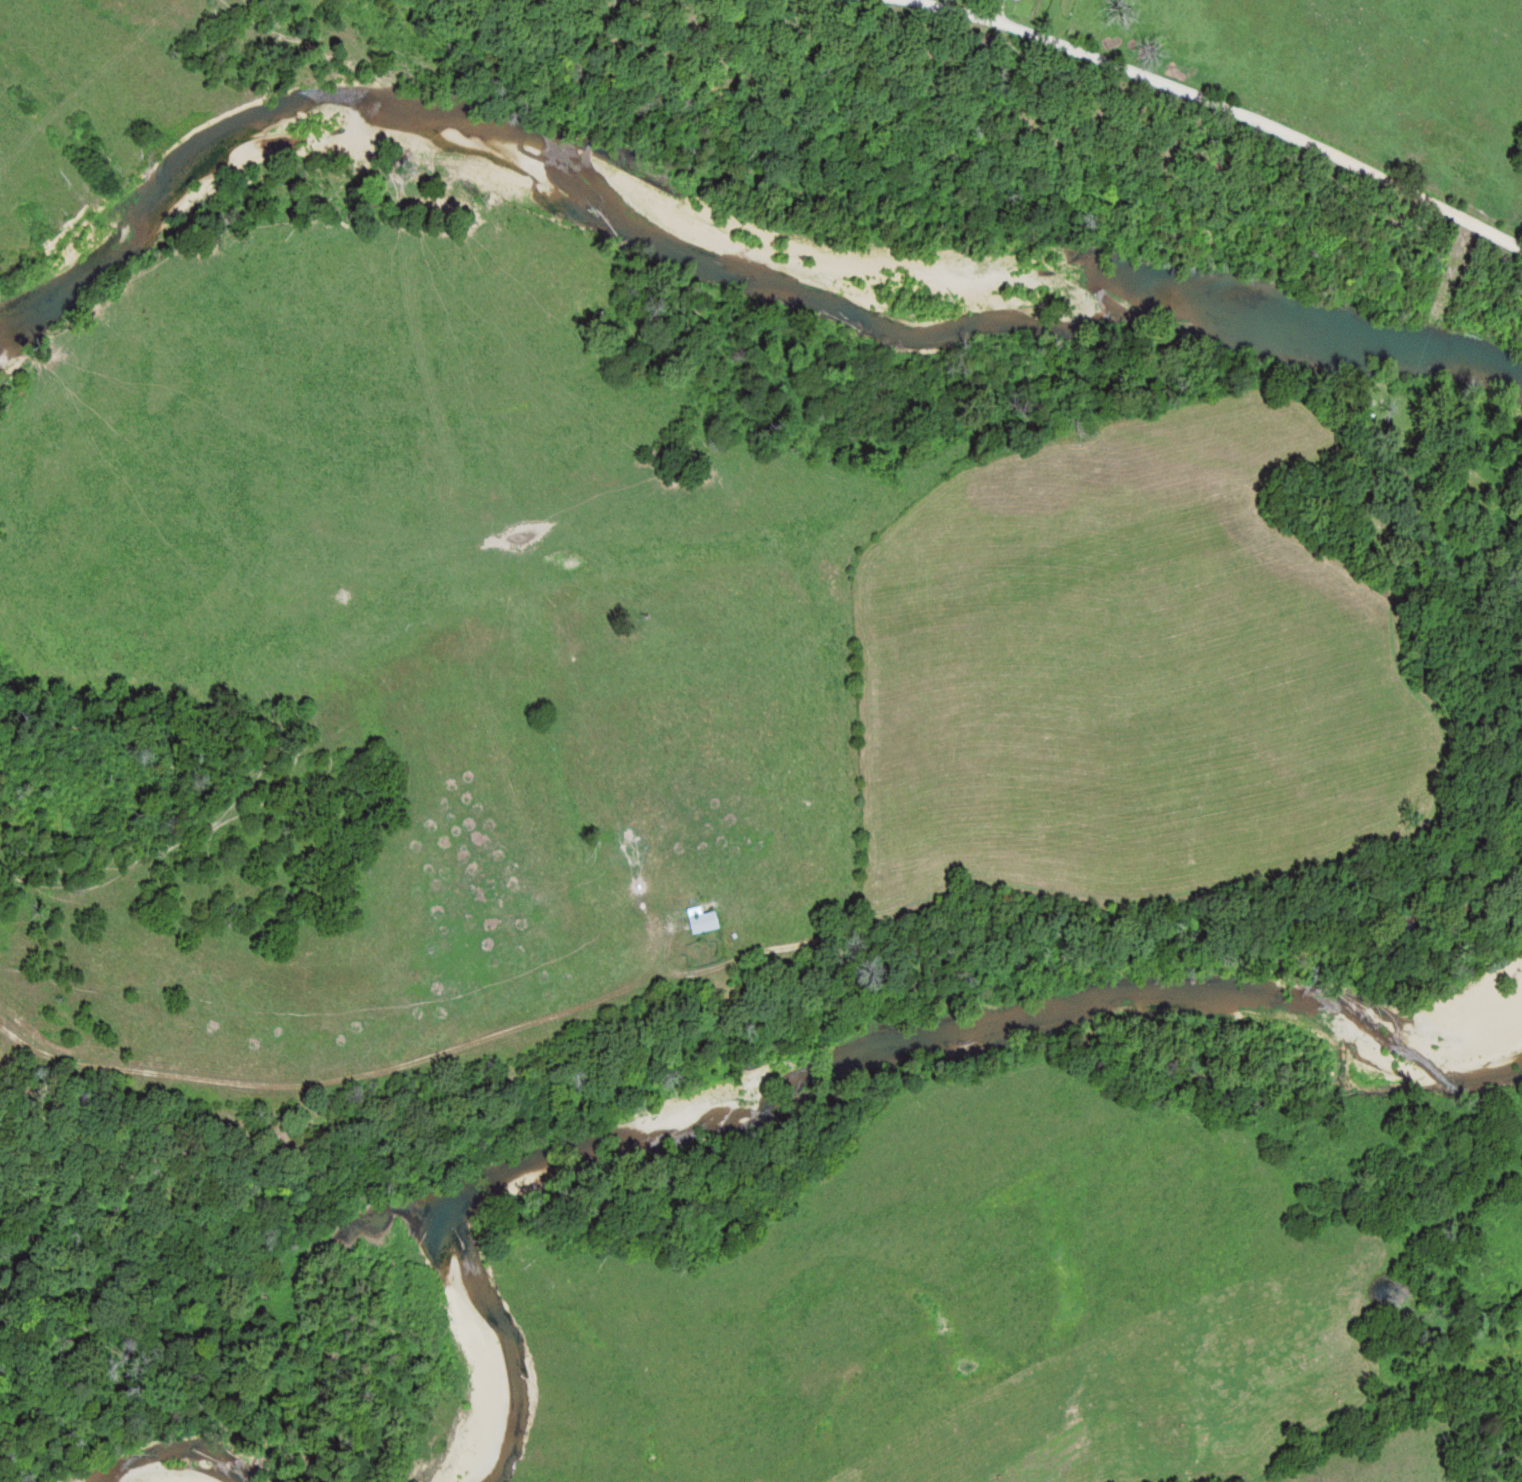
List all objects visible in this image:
road: (1225, 103)
river: (721, 252)
road: (369, 1065)
river: (809, 1069)
river: (137, 1479)

